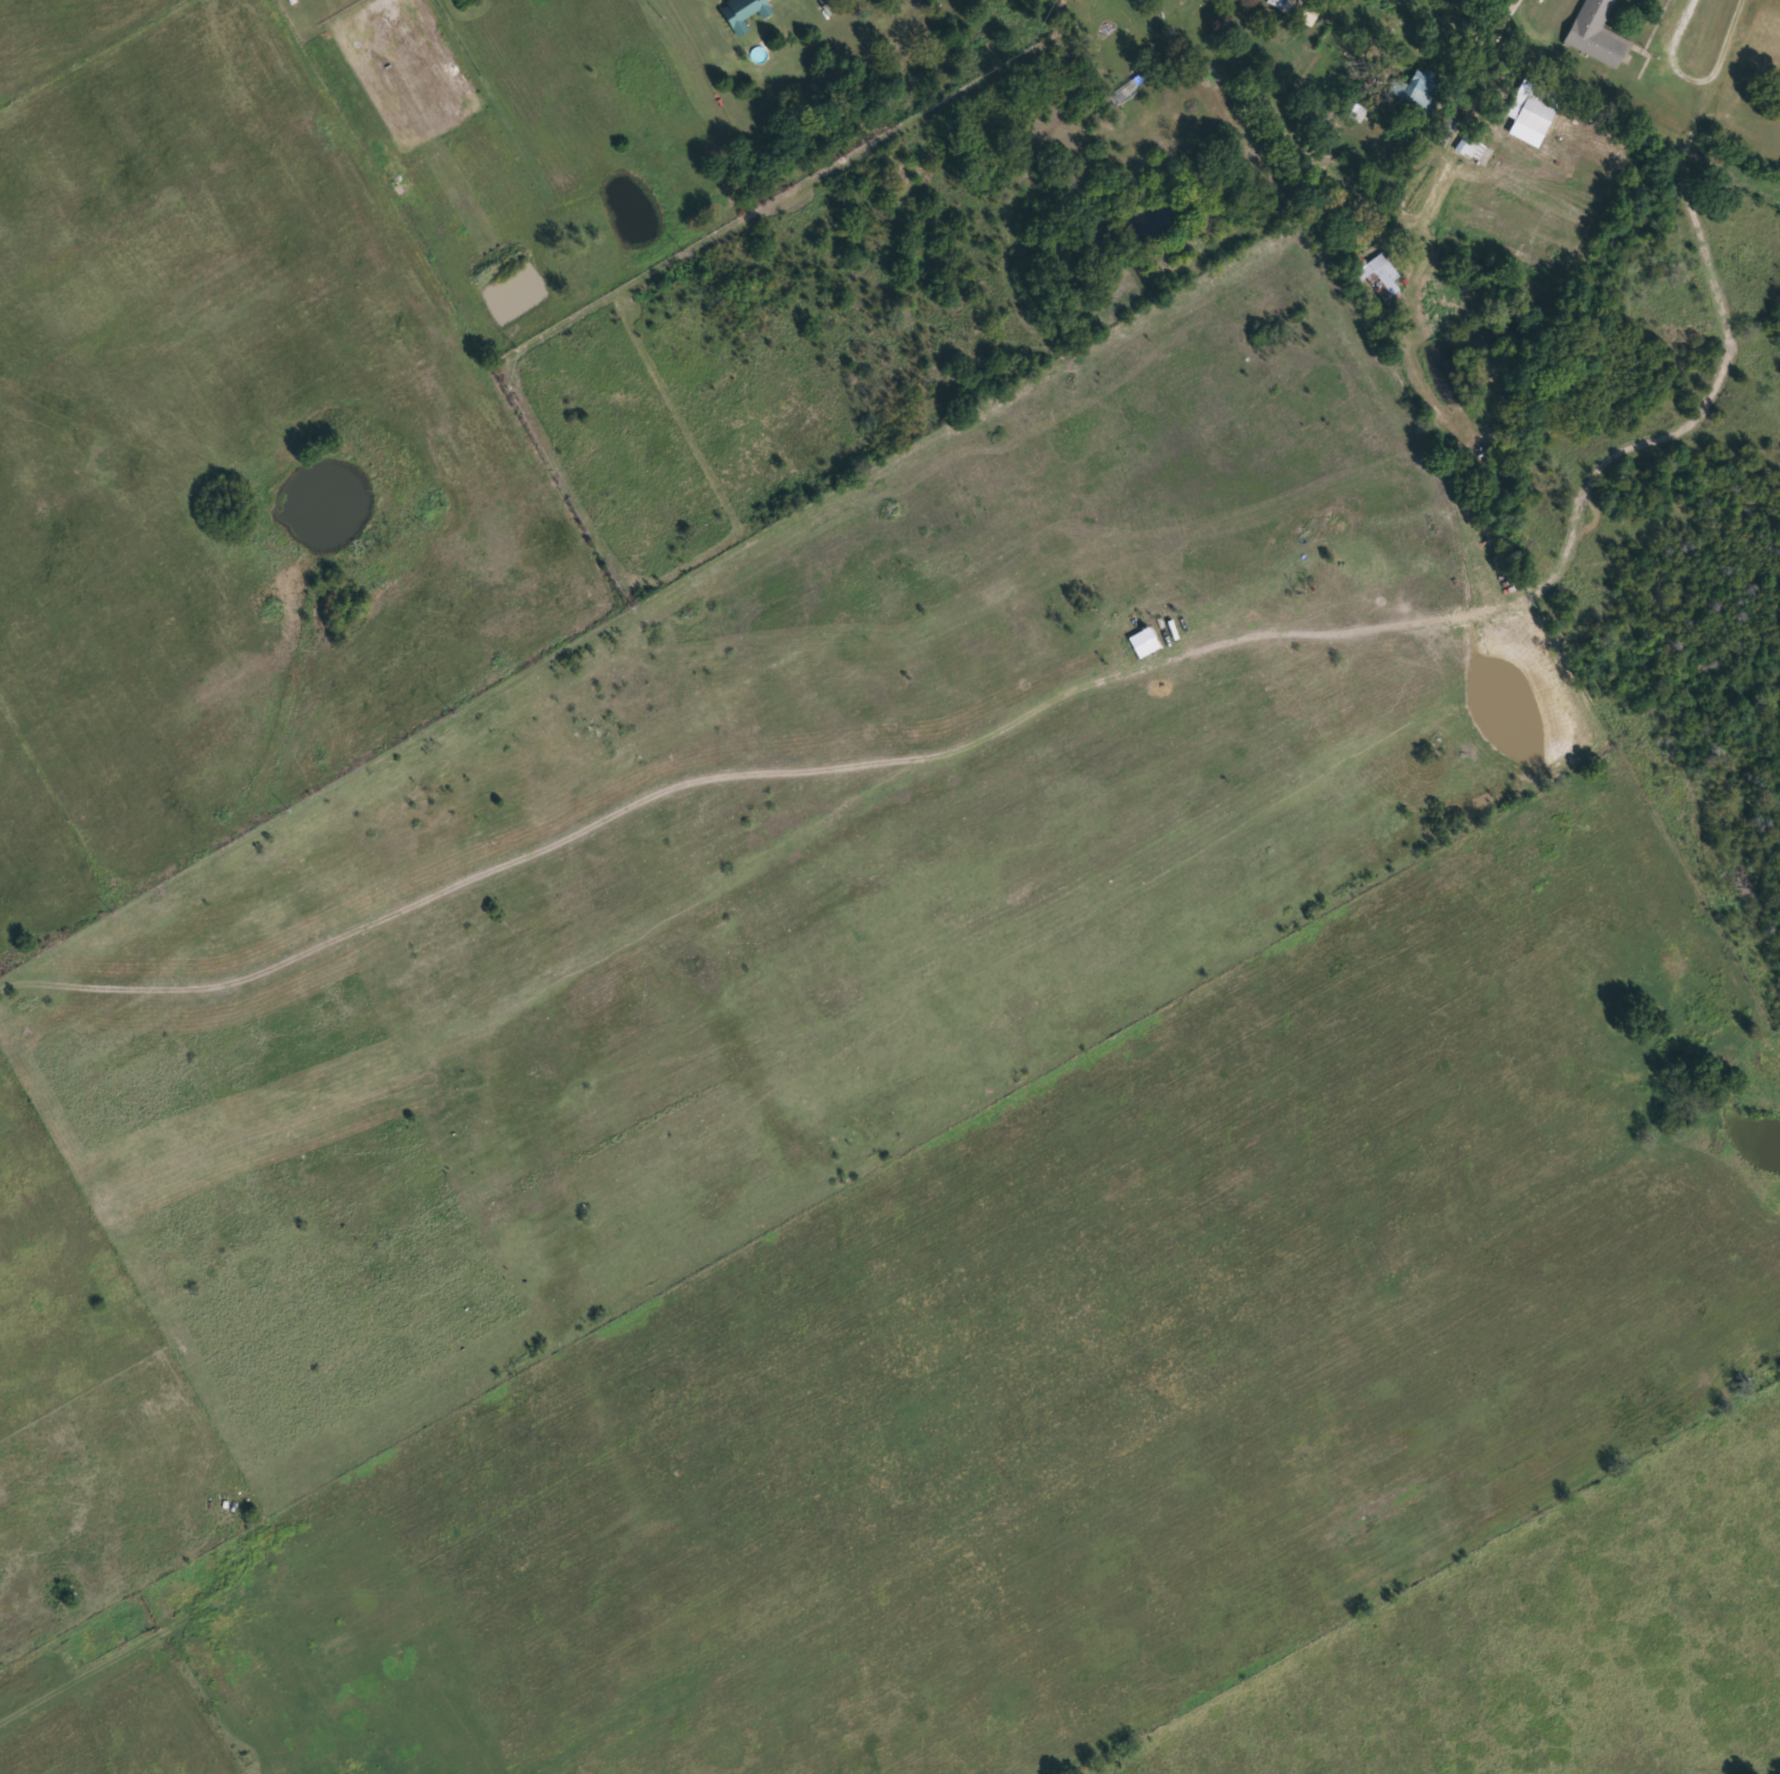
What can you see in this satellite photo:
building: (1206, 0)
building: (1209, 0)
building: (1277, 2)
building: (743, 12)
road: (1507, 19)
building: (1597, 34)
building: (1417, 89)
road: (1597, 92)
building: (1354, 112)
building: (1534, 113)
building: (1446, 130)
building: (1477, 150)
building: (1378, 278)
road: (119, 1649)

